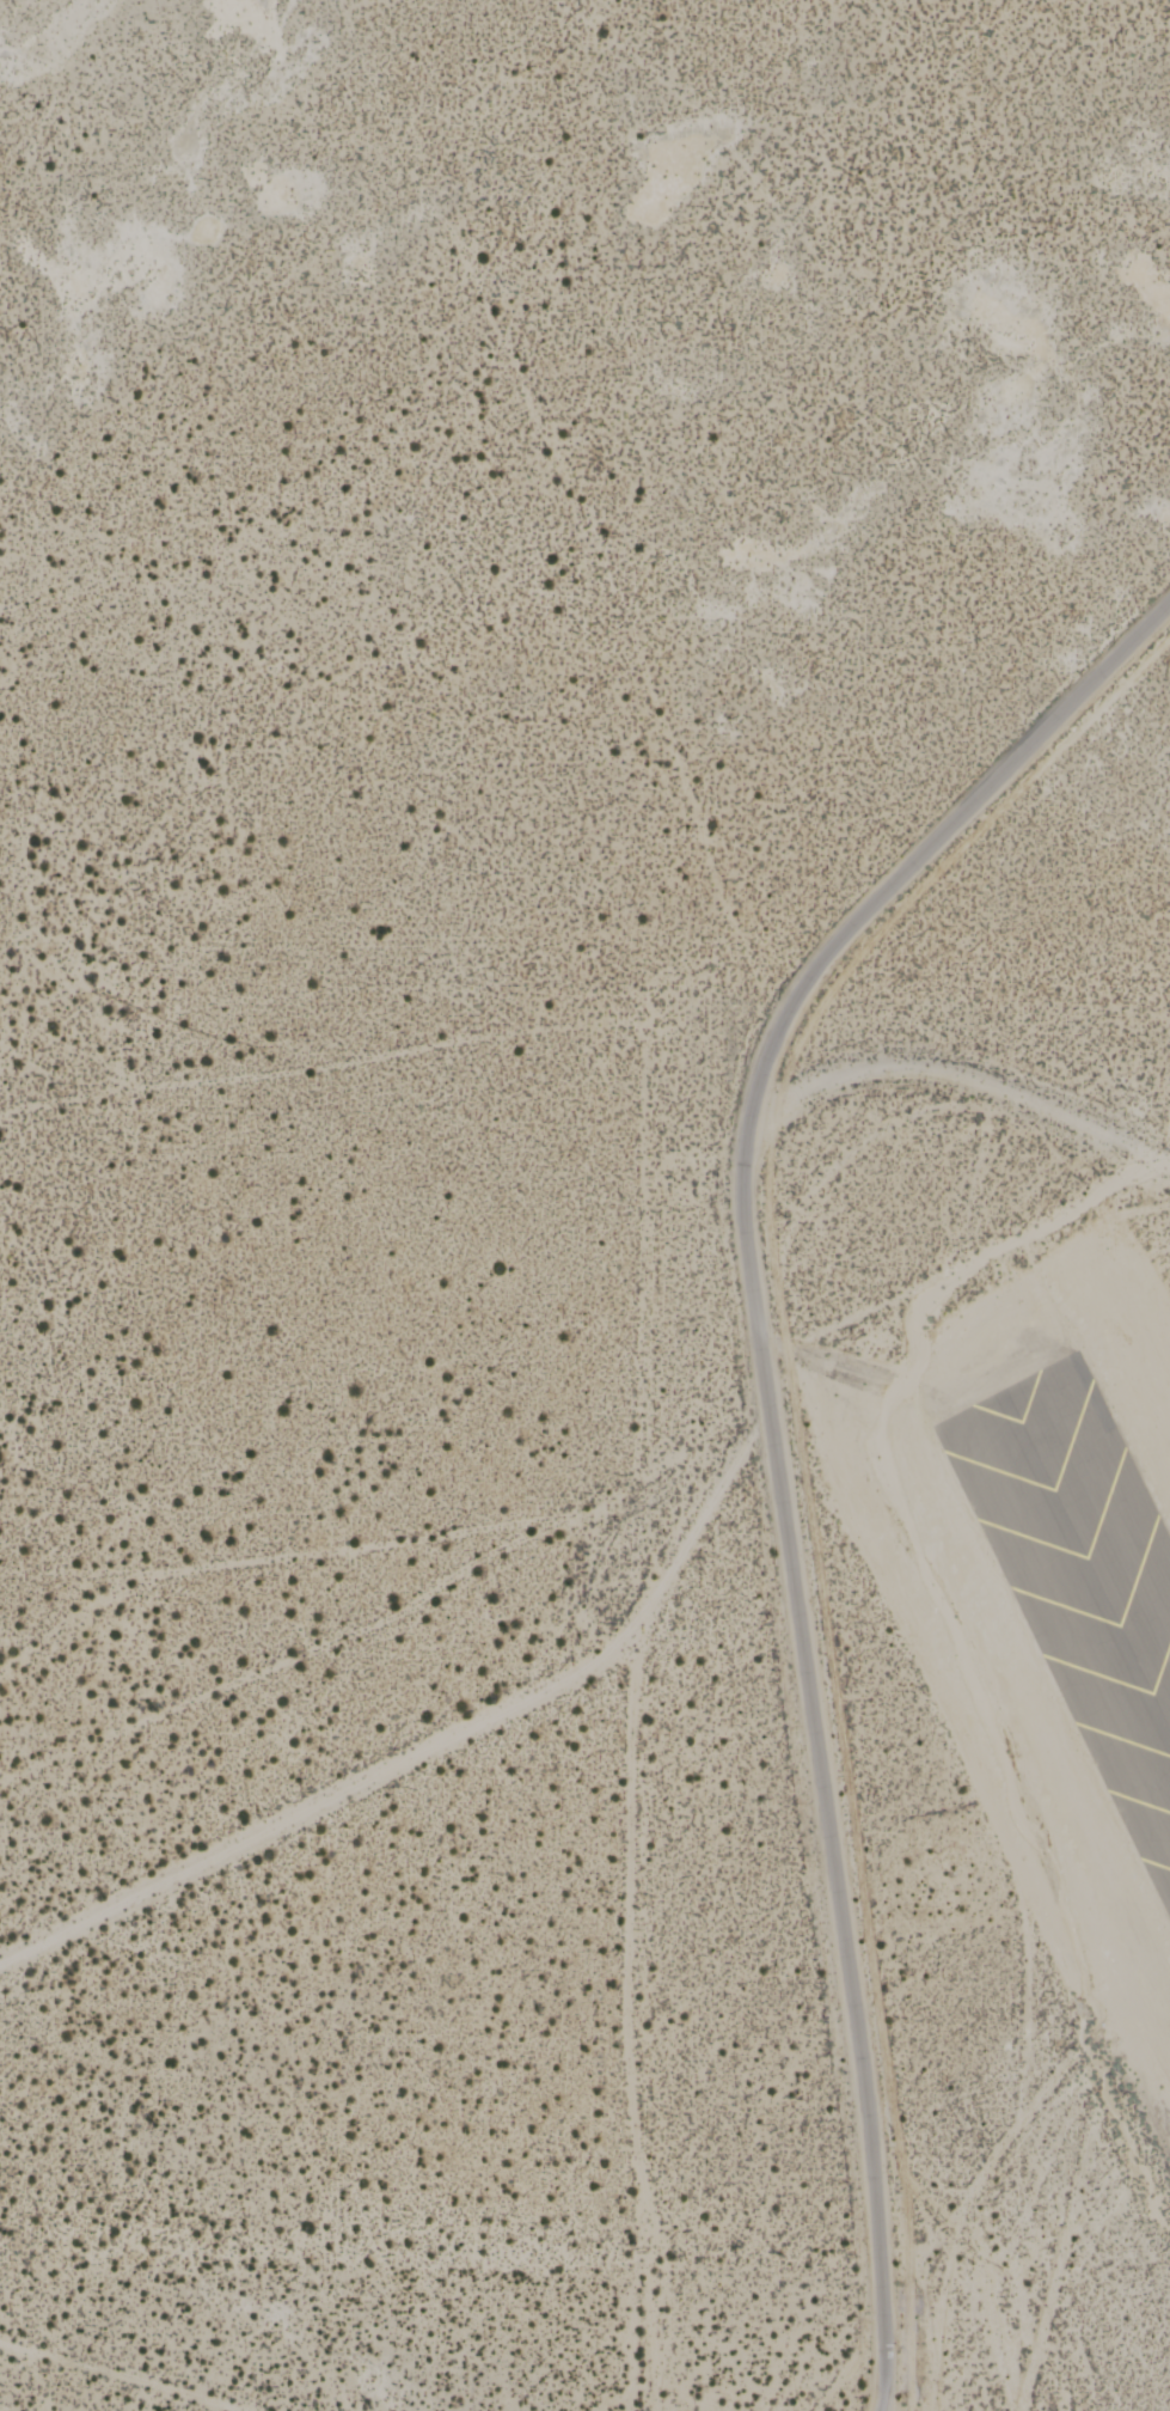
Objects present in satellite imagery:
airport: (584, 1205)
road: (772, 1429)

